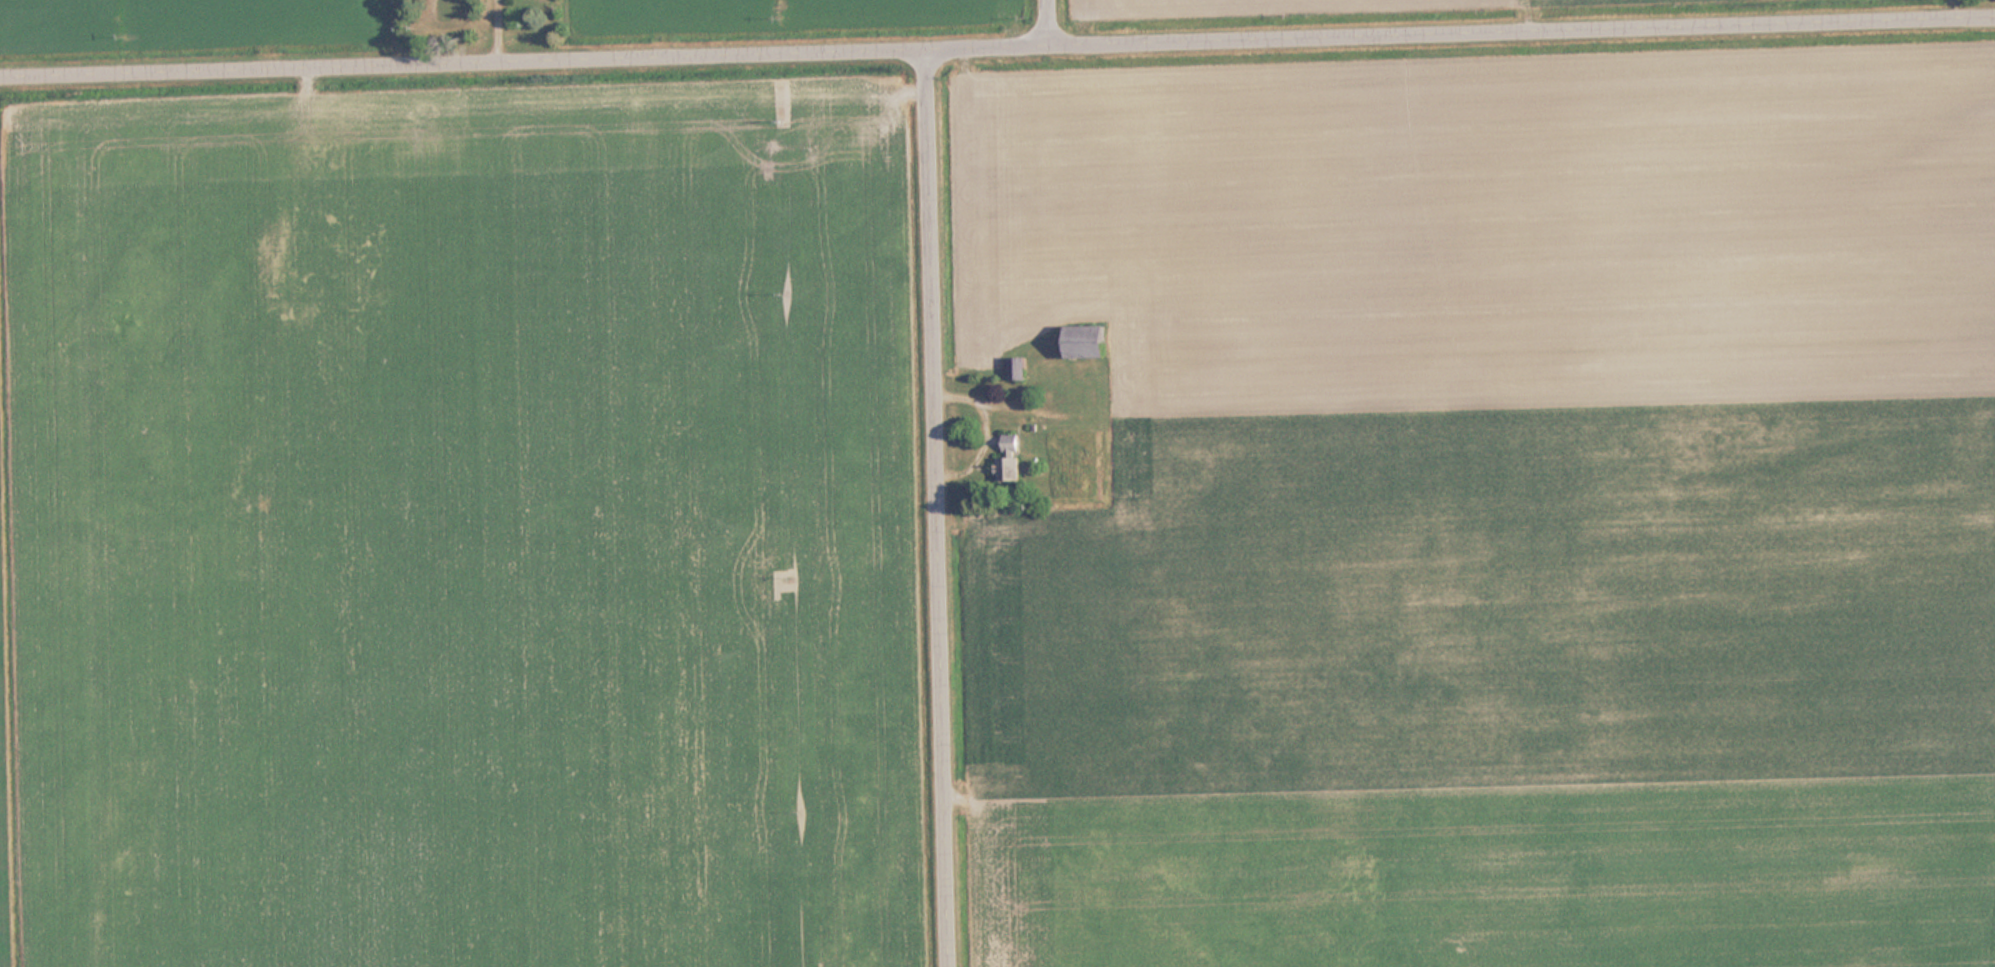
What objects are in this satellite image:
building: (541, 1)
building: (449, 10)
road: (1046, 22)
road: (997, 46)
building: (1087, 340)
building: (1018, 367)
building: (1009, 463)
road: (935, 508)

